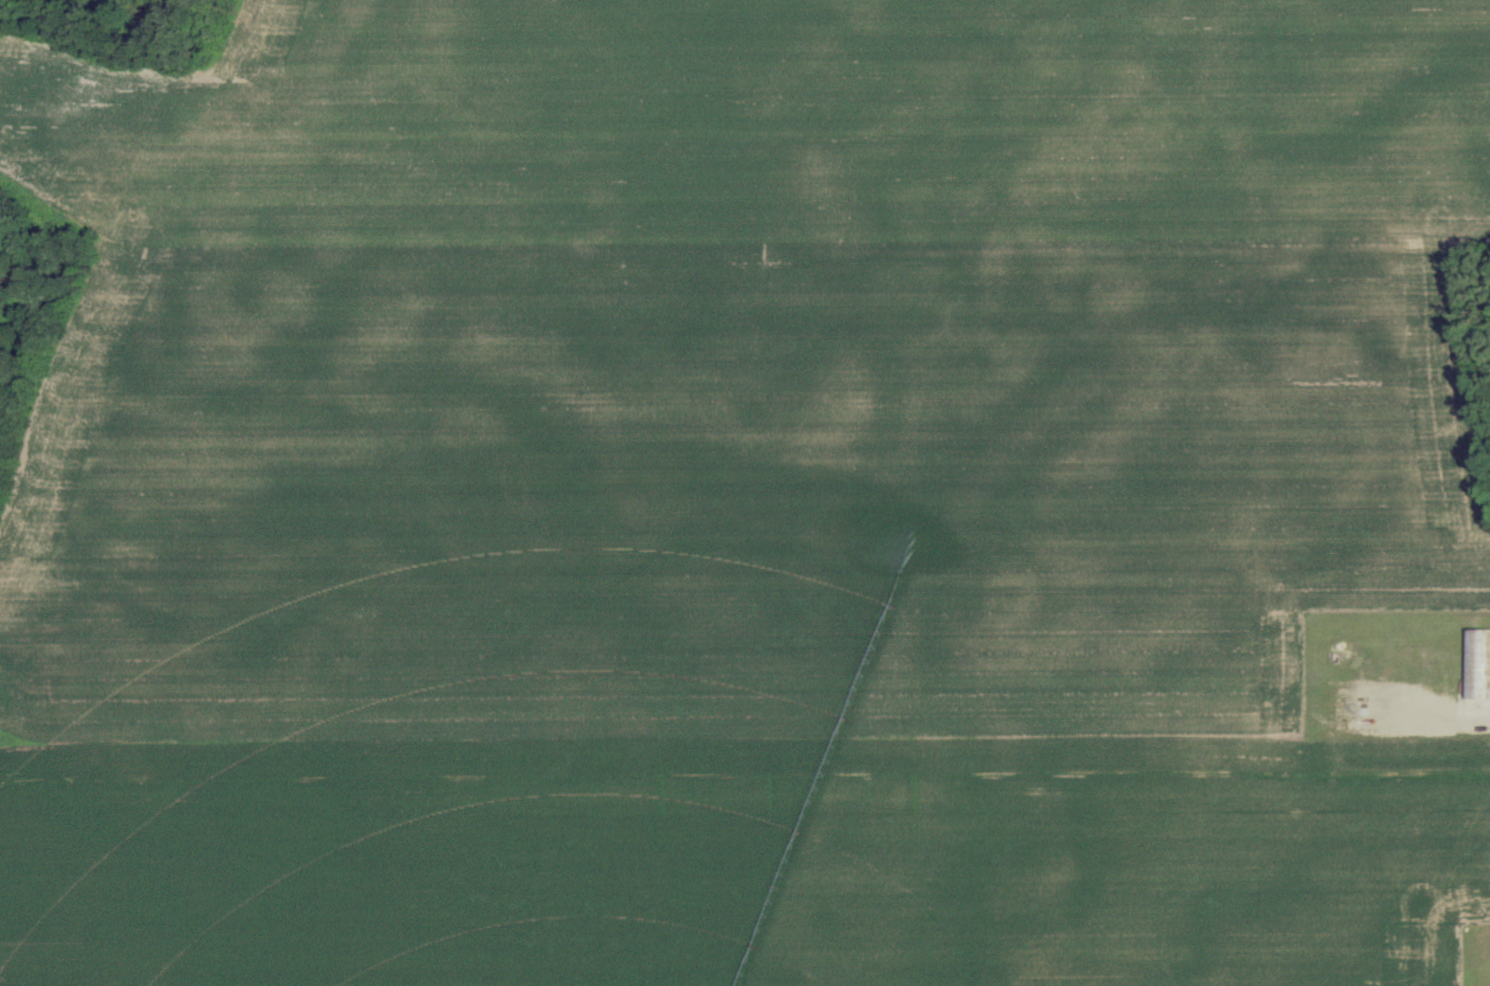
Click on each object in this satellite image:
building: (1471, 662)
road: (1429, 721)

